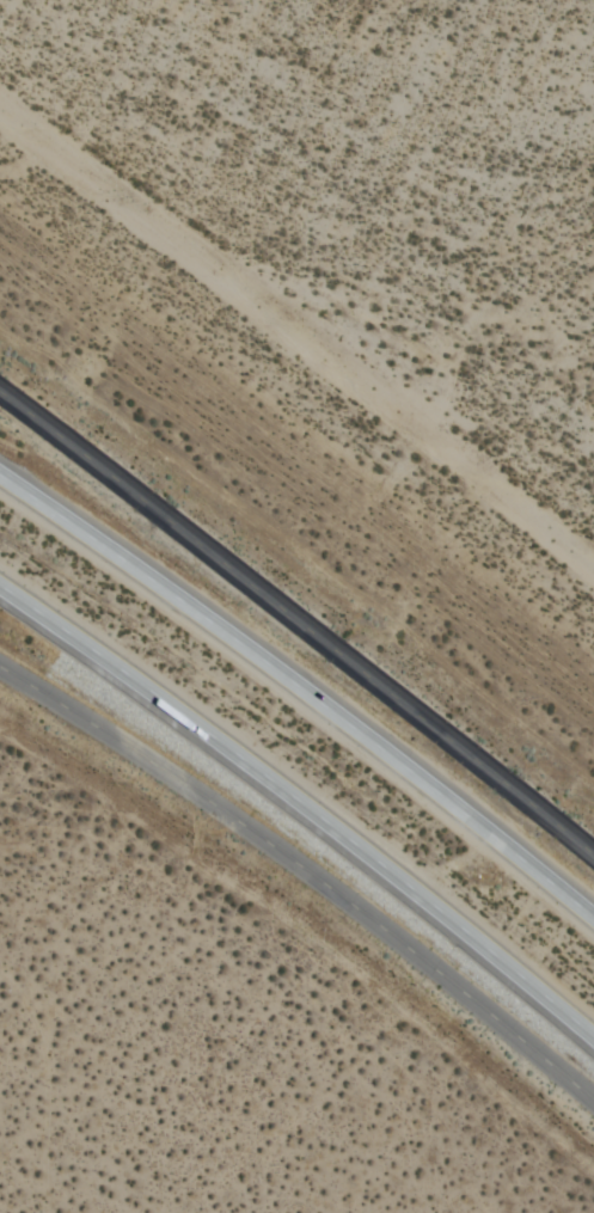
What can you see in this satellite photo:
crop: (335, 275)
road: (298, 623)
road: (301, 691)
road: (302, 805)
road: (307, 870)

